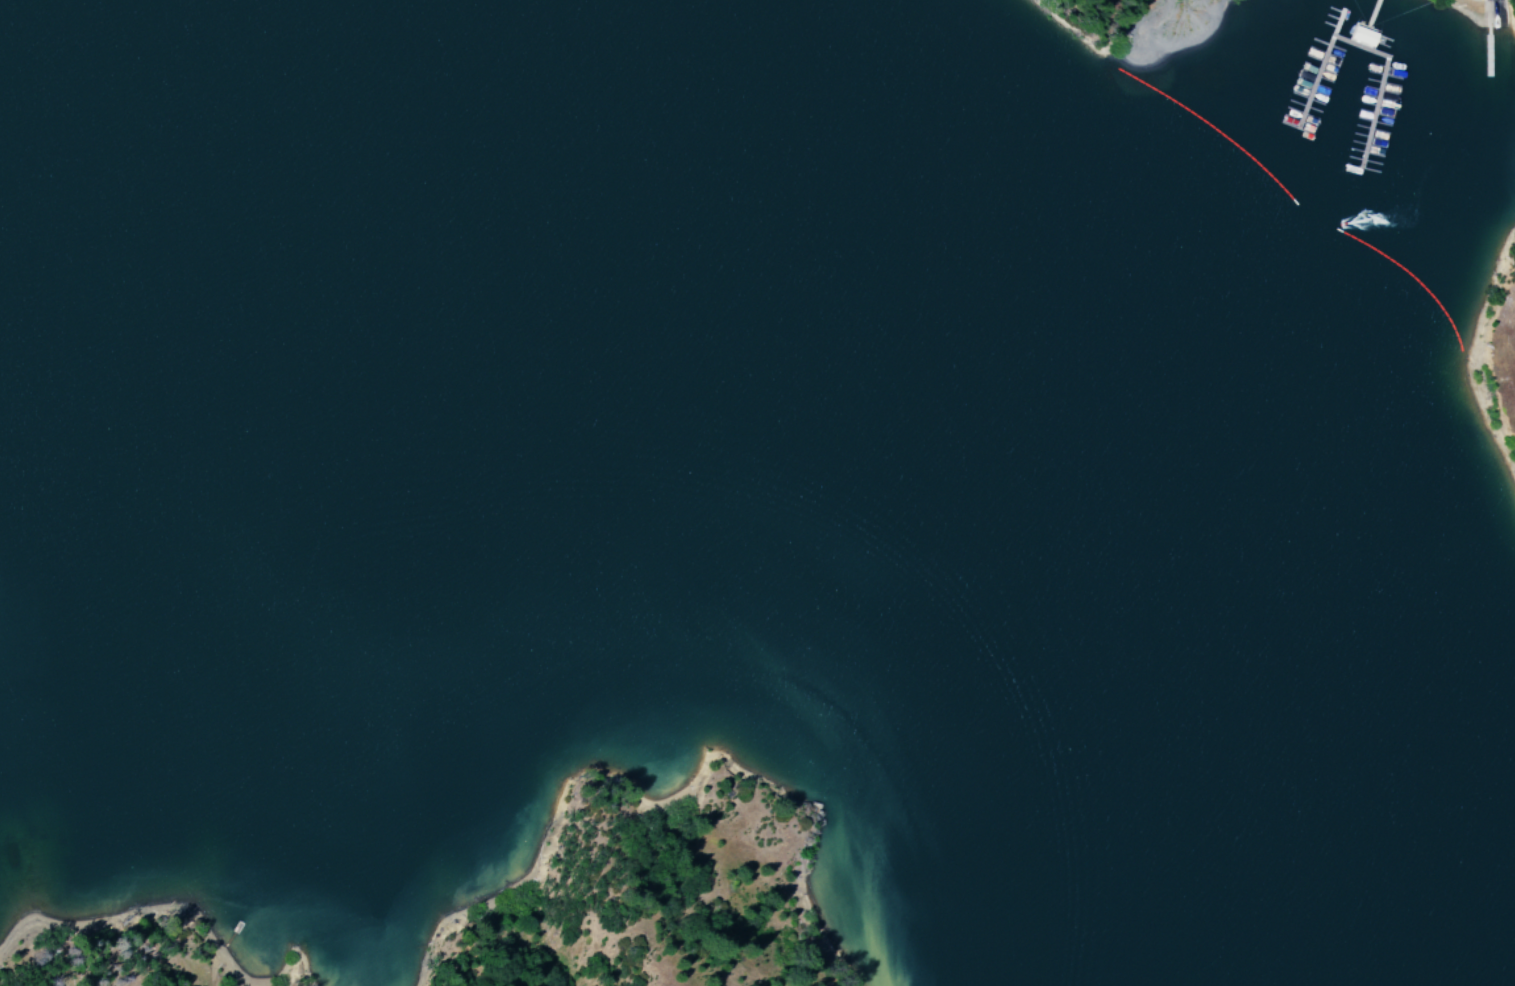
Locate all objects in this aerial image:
river: (392, 101)
river: (623, 221)
river: (838, 376)
river: (1085, 653)
river: (1176, 902)

